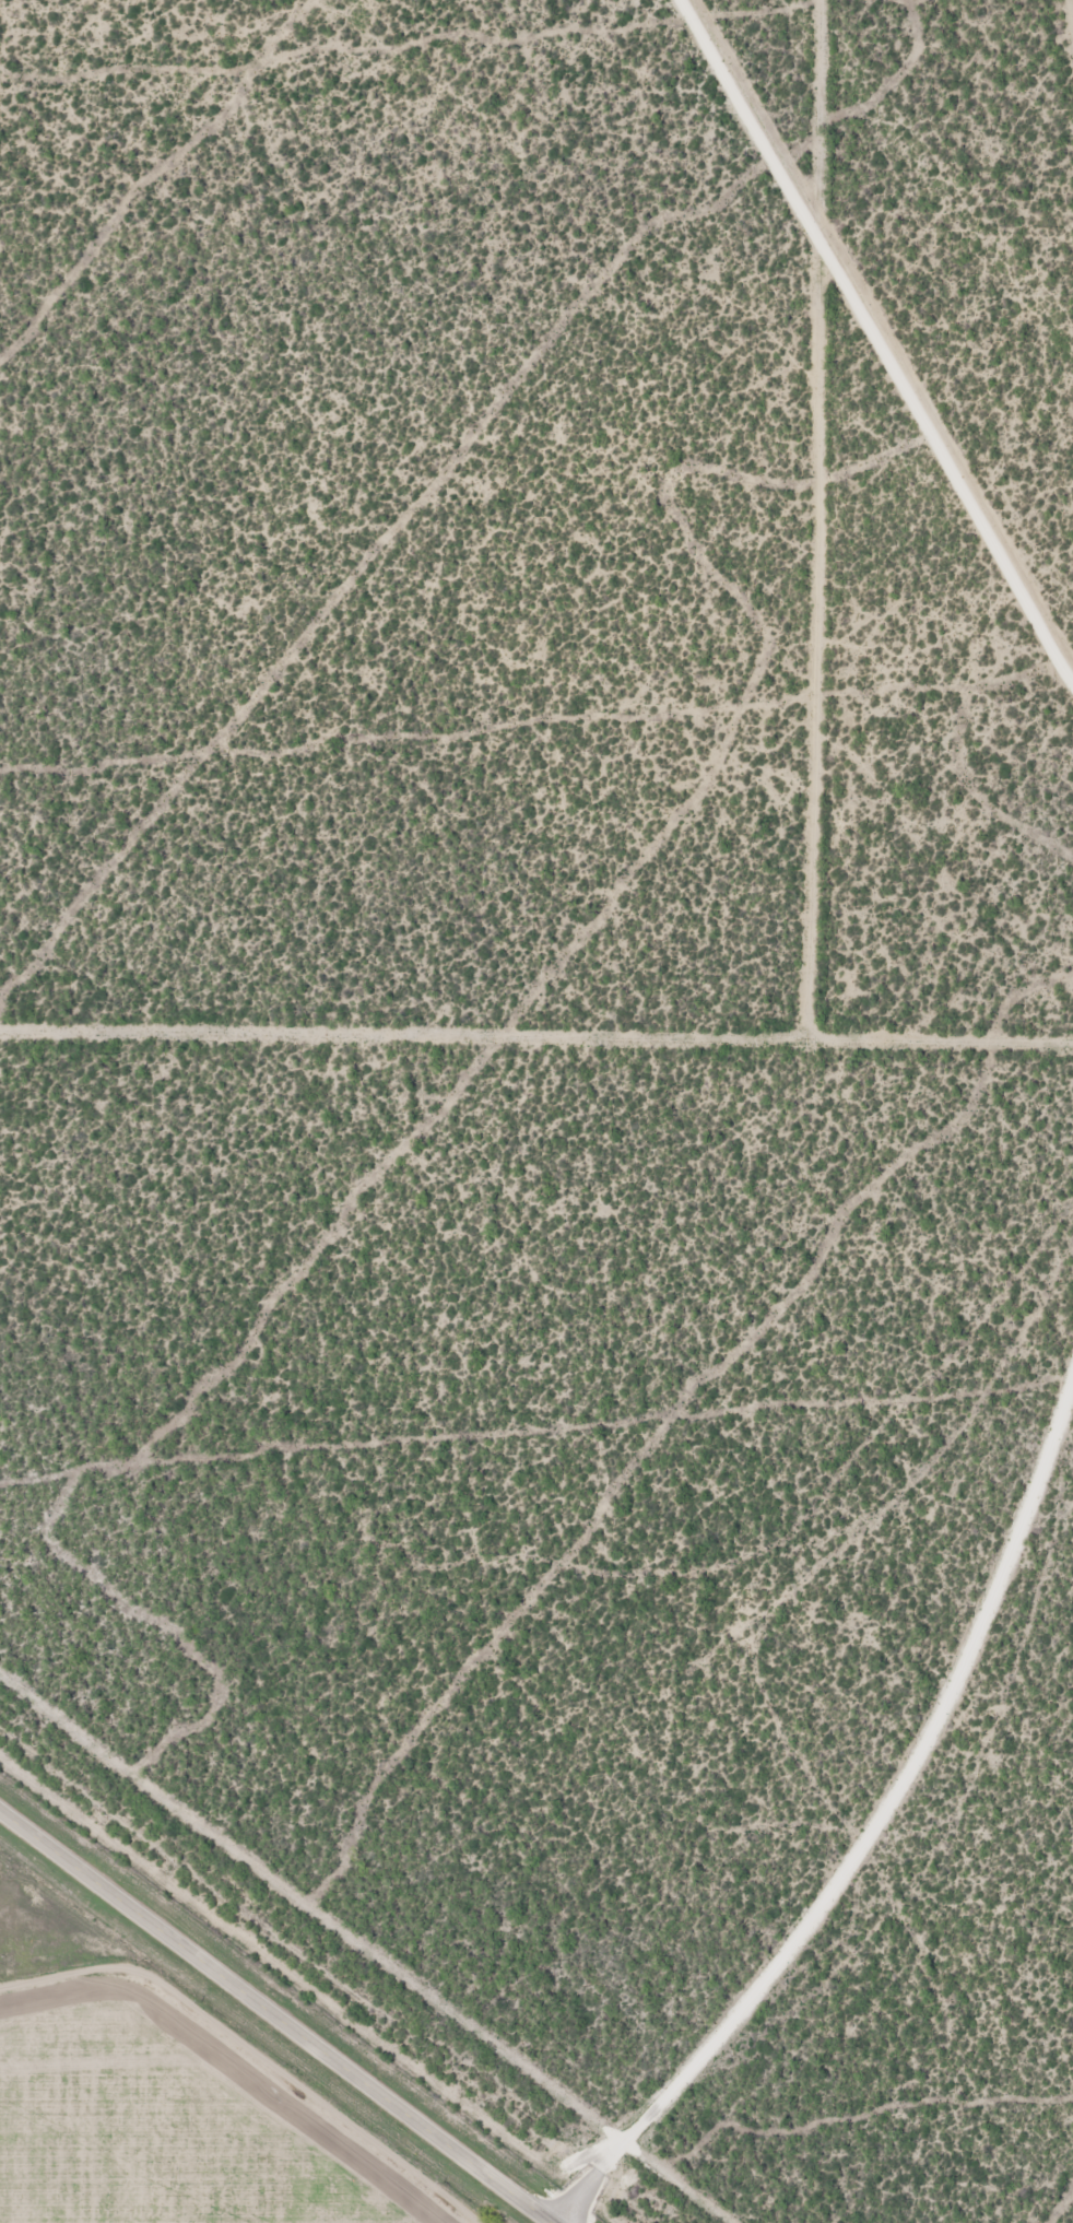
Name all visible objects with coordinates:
road: (281, 2012)

